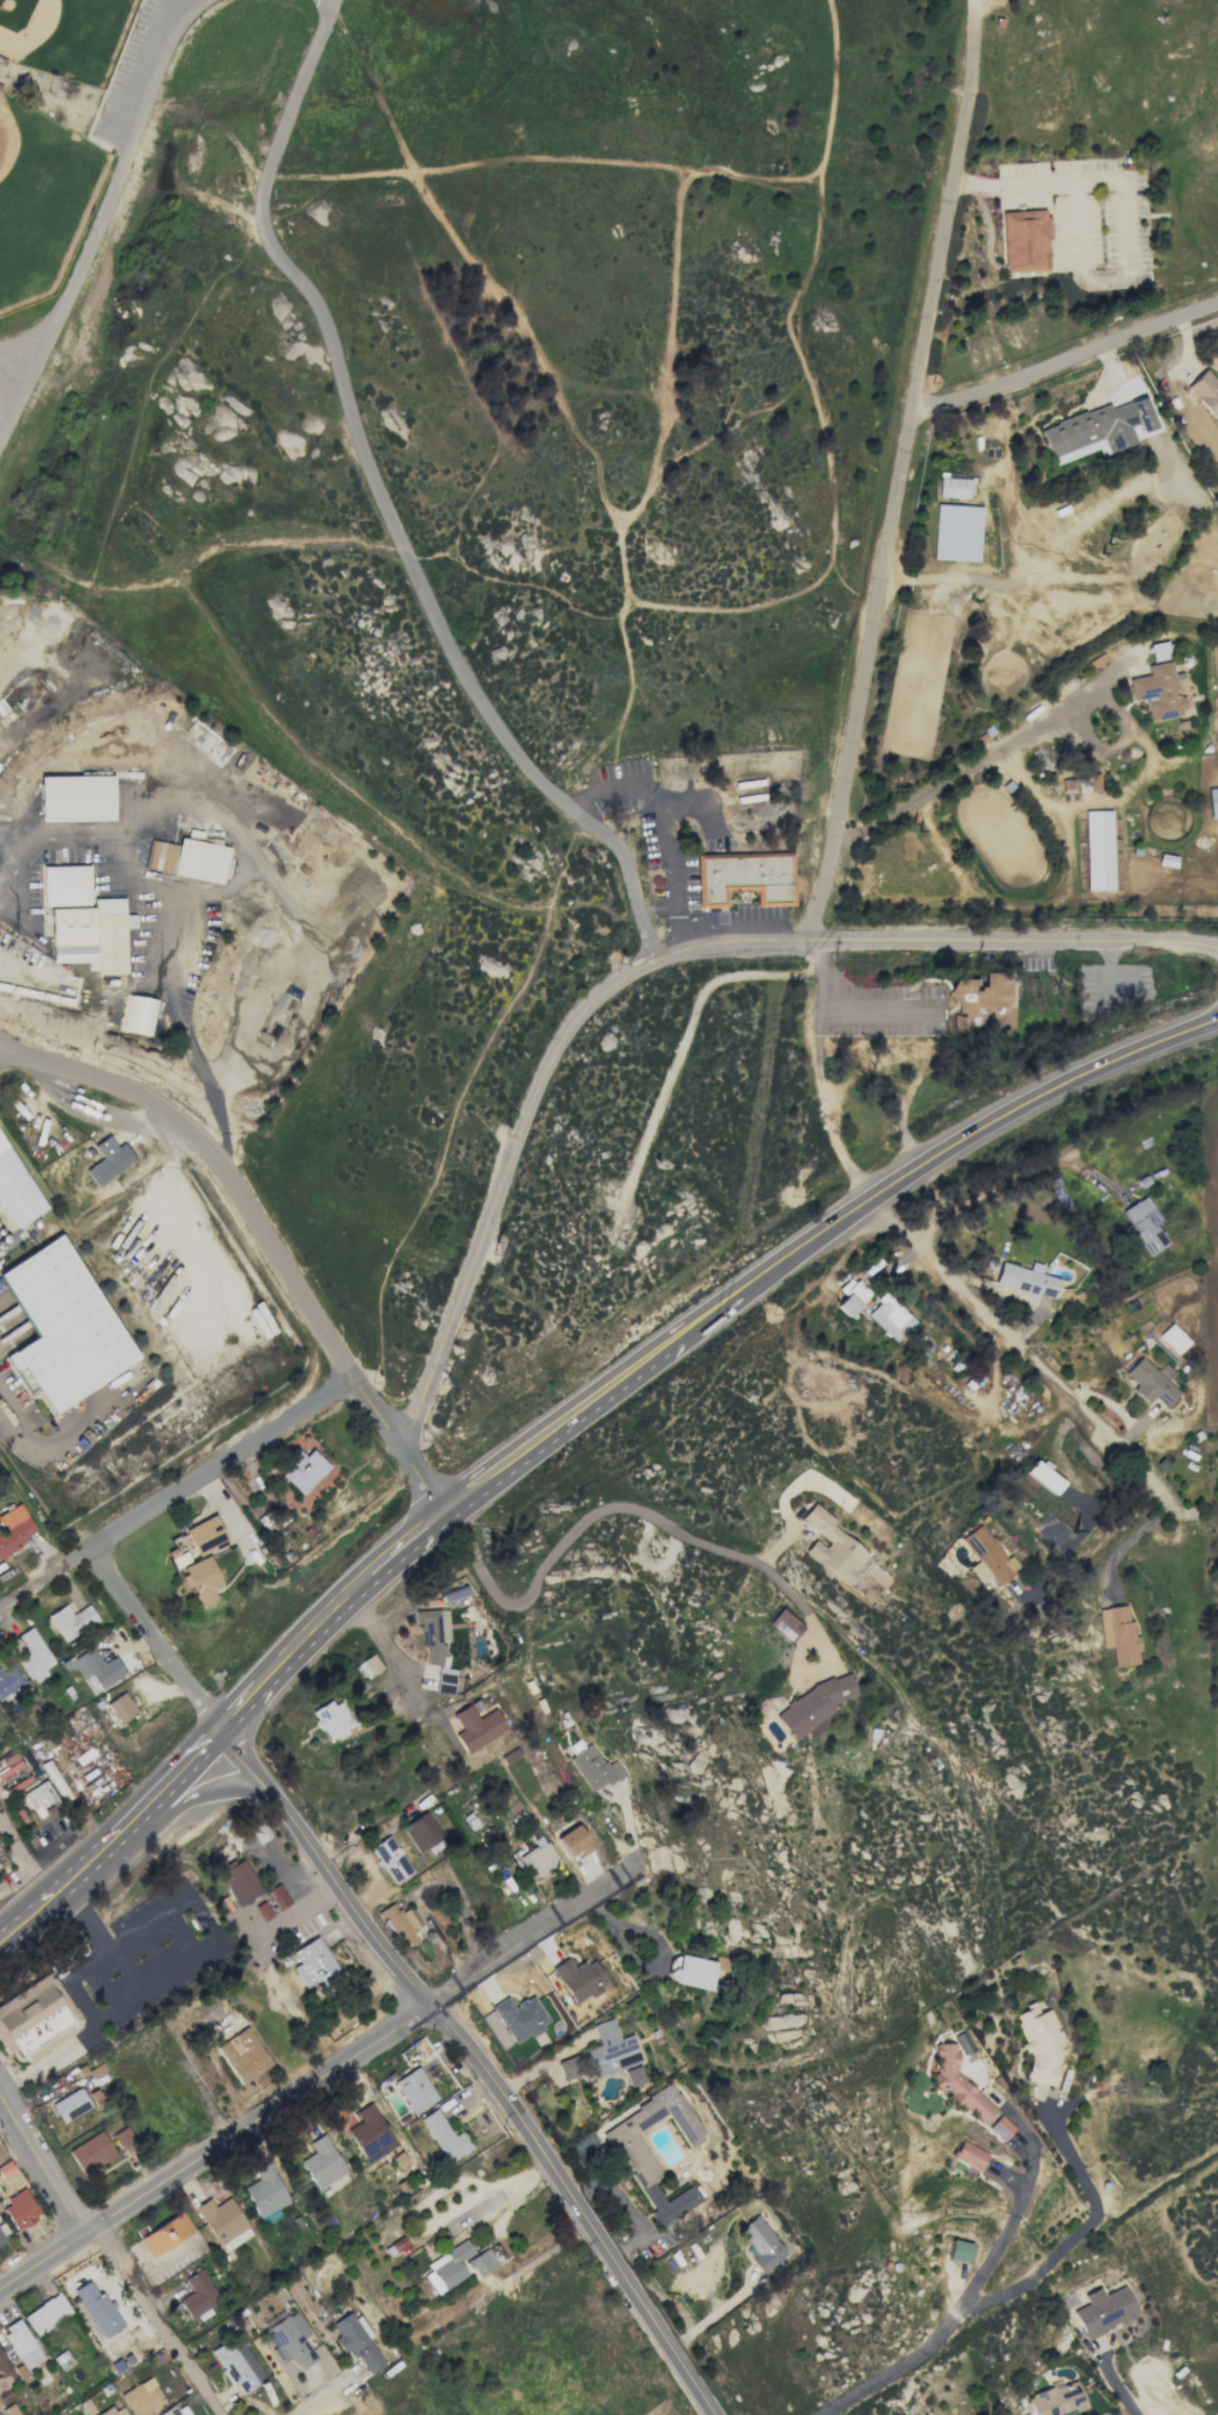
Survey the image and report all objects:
park: (61, 34)
parking lot: (145, 67)
park: (42, 198)
road: (1123, 211)
road: (110, 217)
building: (1024, 240)
road: (1061, 364)
road: (11, 374)
building: (1206, 392)
road: (1182, 394)
building: (1098, 430)
road: (894, 471)
building: (952, 487)
road: (380, 504)
building: (955, 533)
park: (431, 555)
building: (1158, 651)
building: (1157, 691)
building: (1217, 733)
road: (966, 767)
building: (1080, 783)
building: (74, 797)
road: (667, 815)
road: (10, 828)
building: (1098, 850)
road: (116, 856)
building: (187, 859)
building: (744, 879)
building: (65, 885)
building: (91, 935)
road: (659, 963)
building: (982, 1002)
road: (842, 1006)
building: (139, 1014)
road: (5, 1053)
road: (916, 1068)
road: (128, 1091)
road: (826, 1108)
road: (976, 1131)
building: (108, 1161)
road: (1010, 1176)
building: (16, 1189)
building: (1142, 1226)
building: (1025, 1280)
building: (852, 1299)
road: (313, 1312)
road: (715, 1313)
building: (890, 1318)
building: (62, 1325)
building: (1172, 1338)
road: (1030, 1358)
building: (1150, 1382)
road: (610, 1389)
road: (47, 1446)
building: (301, 1469)
road: (492, 1475)
building: (1043, 1476)
road: (1073, 1479)
road: (420, 1481)
road: (175, 1490)
road: (592, 1506)
building: (13, 1528)
road: (1128, 1540)
building: (197, 1541)
road: (406, 1545)
building: (832, 1546)
road: (1069, 1548)
building: (988, 1553)
building: (199, 1580)
road: (329, 1616)
building: (71, 1620)
building: (784, 1625)
building: (1117, 1634)
road: (151, 1640)
building: (436, 1647)
road: (388, 1654)
building: (34, 1655)
building: (367, 1666)
building: (94, 1668)
building: (10, 1684)
road: (252, 1695)
building: (119, 1707)
building: (811, 1707)
building: (330, 1719)
building: (476, 1727)
road: (242, 1761)
building: (593, 1768)
road: (205, 1793)
building: (40, 1802)
building: (422, 1833)
building: (572, 1841)
road: (116, 1844)
building: (390, 1859)
building: (538, 1860)
building: (238, 1881)
building: (277, 1896)
building: (262, 1910)
road: (286, 1917)
building: (398, 1925)
road: (169, 1937)
road: (199, 1949)
building: (314, 1966)
building: (690, 1971)
building: (578, 1978)
building: (34, 2018)
building: (514, 2020)
building: (964, 2042)
building: (1039, 2043)
road: (361, 2048)
building: (611, 2050)
building: (242, 2055)
road: (46, 2059)
building: (569, 2067)
building: (634, 2075)
building: (956, 2083)
building: (414, 2090)
road: (503, 2093)
building: (70, 2104)
road: (4, 2115)
building: (1000, 2127)
building: (370, 2134)
building: (443, 2137)
building: (122, 2138)
building: (90, 2152)
building: (971, 2155)
building: (637, 2161)
building: (320, 2163)
road: (42, 2165)
road: (1068, 2170)
building: (264, 2191)
road: (605, 2191)
building: (19, 2210)
building: (222, 2222)
road: (650, 2222)
road: (91, 2229)
building: (166, 2234)
building: (2, 2235)
road: (1006, 2235)
building: (761, 2243)
building: (960, 2251)
road: (42, 2261)
building: (479, 2263)
road: (538, 2263)
building: (445, 2267)
building: (198, 2296)
building: (97, 2307)
building: (1104, 2309)
building: (46, 2313)
road: (160, 2319)
road: (955, 2320)
building: (288, 2339)
building: (356, 2341)
building: (20, 2343)
building: (238, 2363)
building: (2, 2365)
road: (1117, 2389)
building: (140, 2398)
road: (314, 2399)
building: (1057, 2399)
building: (8, 2410)
building: (114, 2410)
building: (169, 2411)

